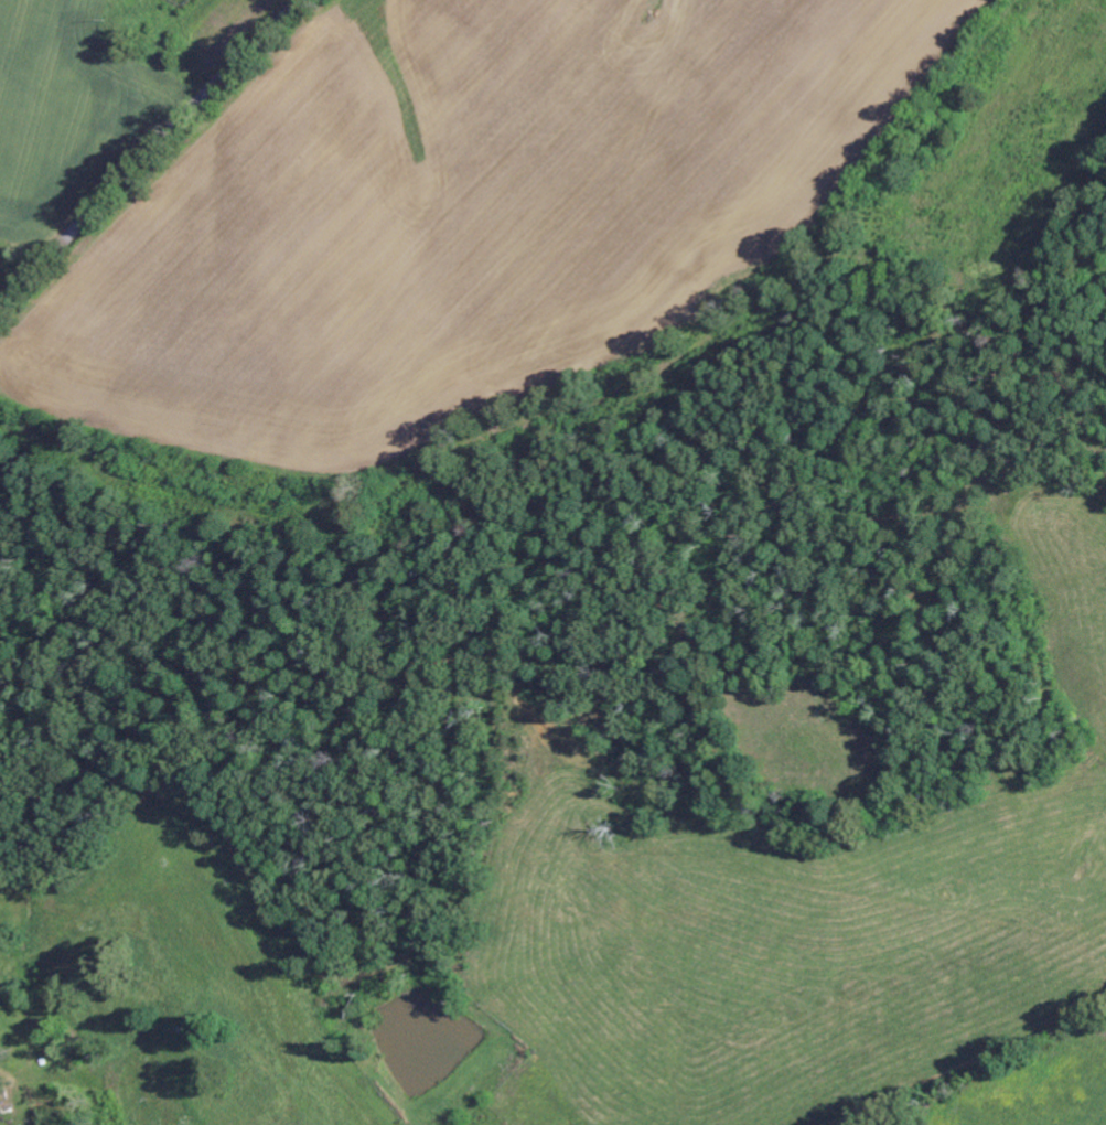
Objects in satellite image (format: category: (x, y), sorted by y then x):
road: (149, 152)

